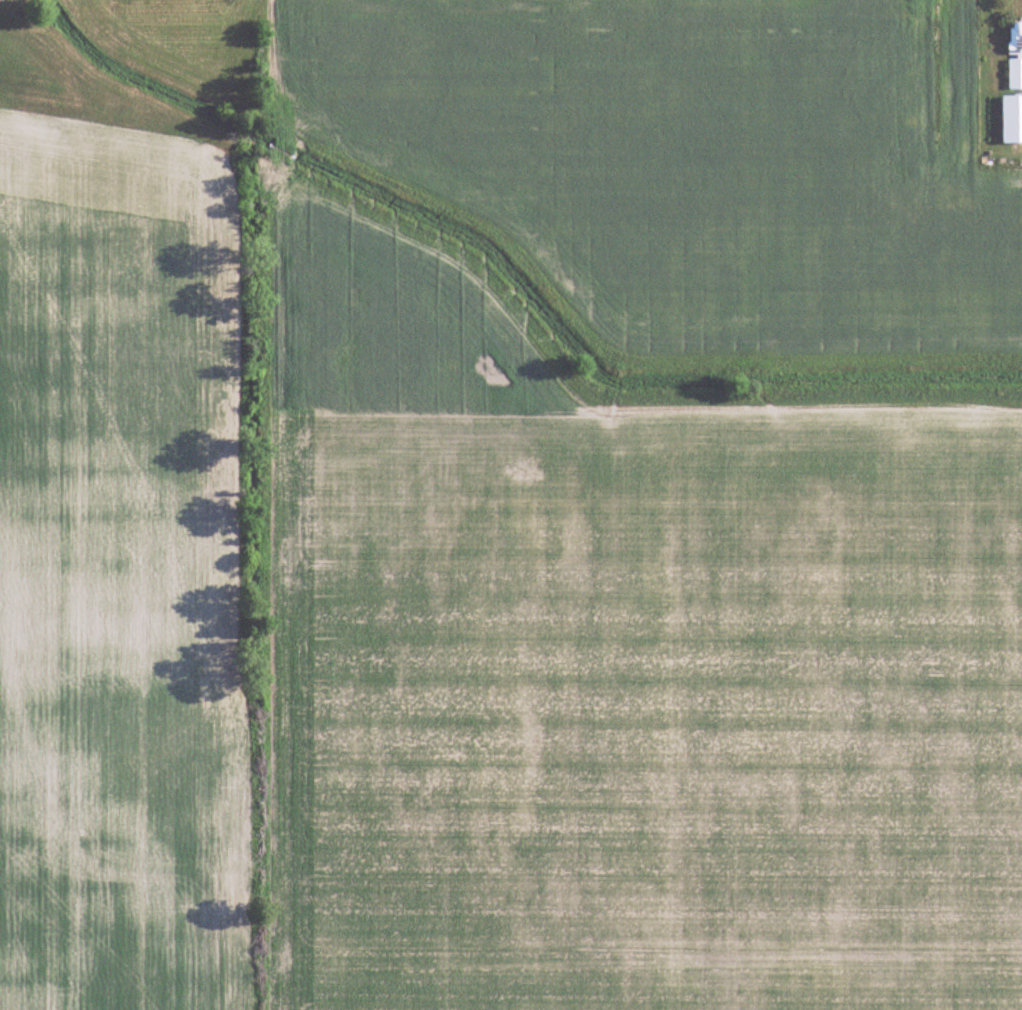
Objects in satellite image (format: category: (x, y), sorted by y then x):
building: (1015, 56)
building: (1012, 119)

